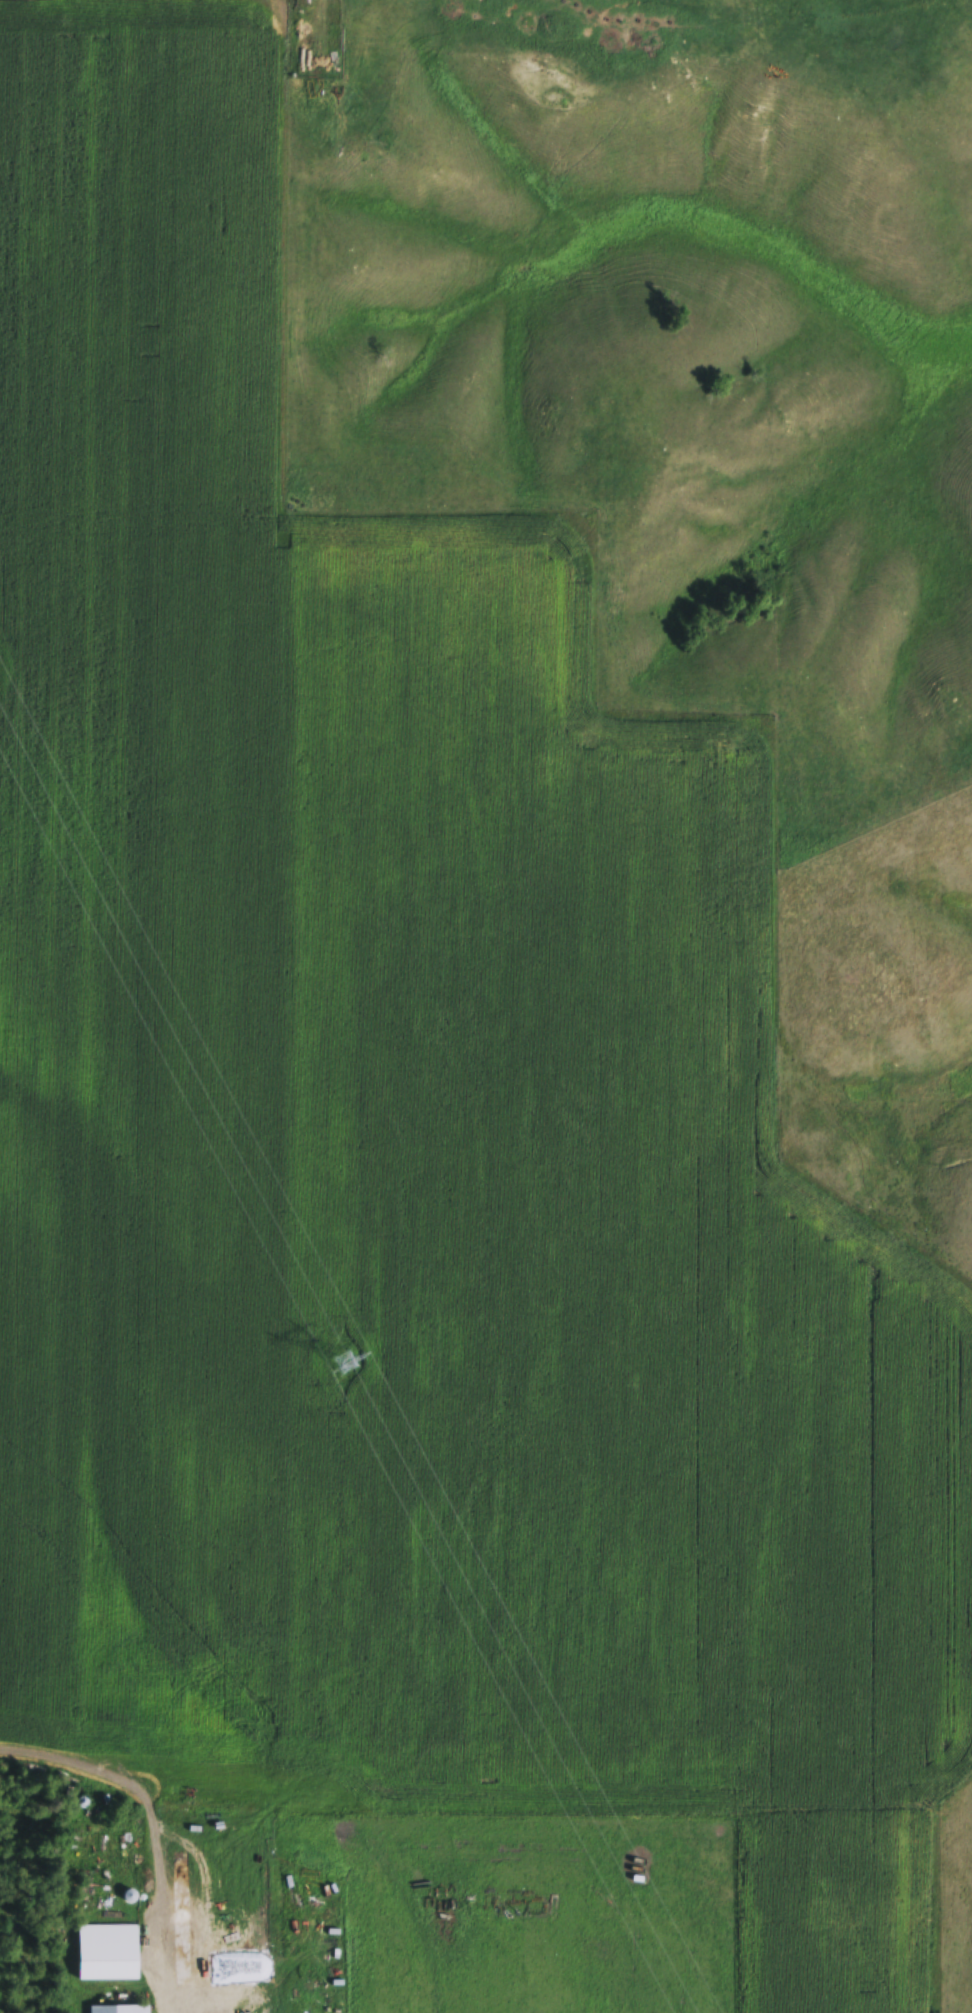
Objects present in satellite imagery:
power tower: (345, 1363)
road: (151, 1830)
building: (111, 1955)
building: (248, 1972)
building: (120, 2010)

